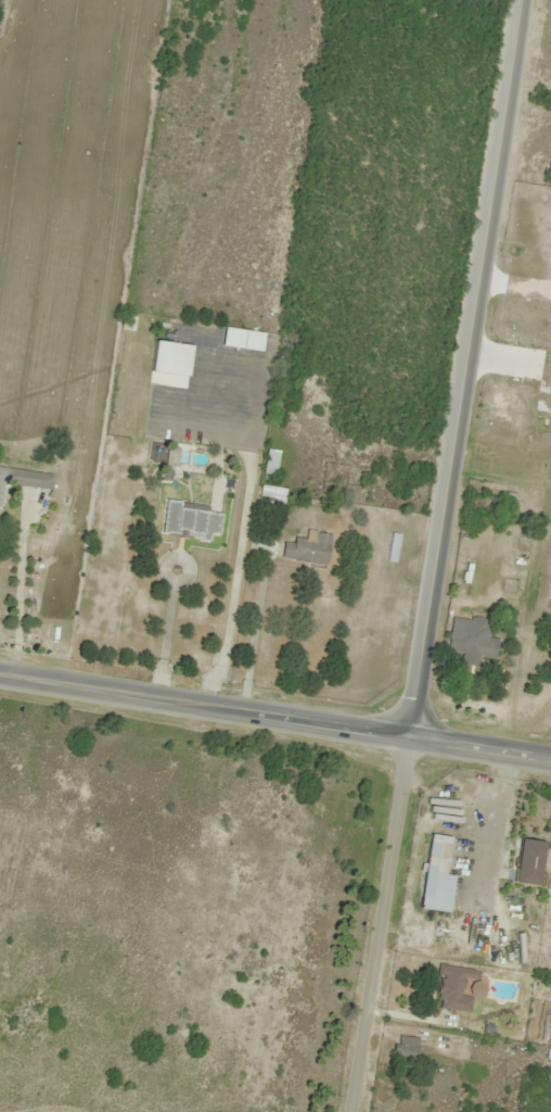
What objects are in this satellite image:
building: (243, 340)
building: (172, 363)
road: (464, 368)
building: (267, 462)
building: (24, 479)
building: (269, 491)
building: (188, 520)
building: (306, 547)
building: (470, 640)
road: (275, 717)
building: (525, 862)
building: (433, 876)
road: (377, 924)
building: (450, 989)
building: (405, 1049)

